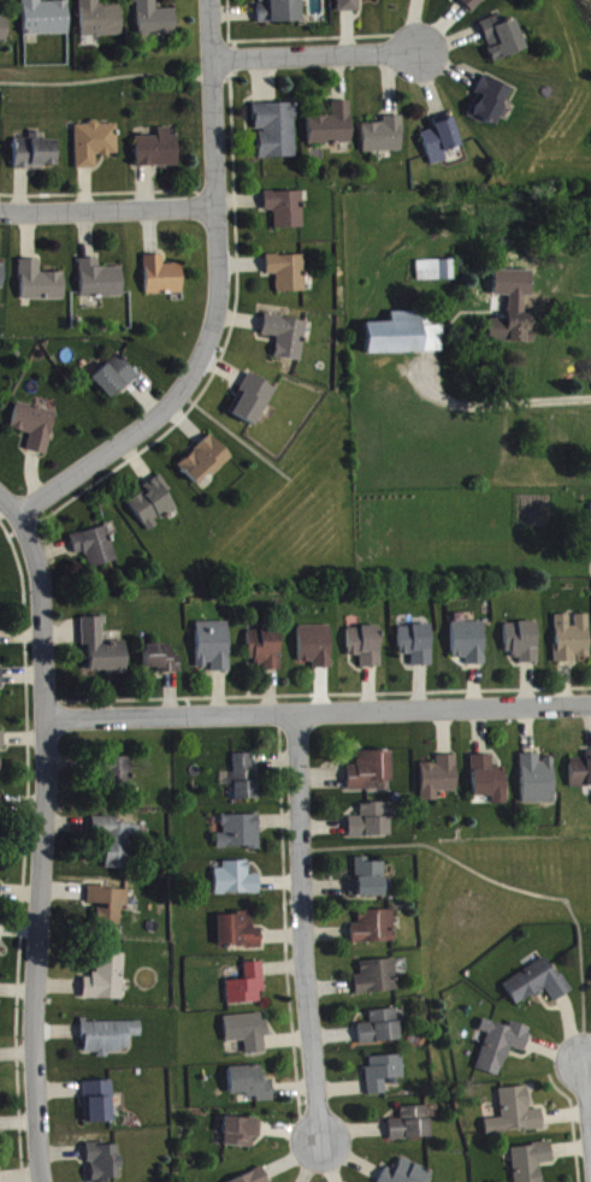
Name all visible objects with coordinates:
building: (473, 4)
building: (350, 6)
building: (280, 11)
building: (47, 18)
building: (156, 19)
building: (101, 20)
building: (5, 29)
building: (503, 39)
road: (319, 55)
building: (490, 102)
building: (333, 128)
building: (277, 131)
building: (384, 136)
building: (442, 140)
building: (96, 144)
building: (159, 150)
building: (36, 153)
building: (288, 209)
road: (108, 212)
building: (437, 271)
building: (289, 273)
building: (1, 276)
building: (165, 277)
building: (102, 282)
building: (42, 283)
road: (220, 303)
building: (514, 309)
building: (288, 337)
building: (406, 337)
building: (117, 378)
building: (253, 401)
road: (503, 403)
building: (36, 427)
building: (207, 461)
building: (155, 504)
road: (10, 506)
building: (97, 548)
building: (573, 639)
building: (524, 642)
building: (471, 643)
building: (418, 645)
building: (215, 646)
building: (318, 646)
building: (367, 646)
building: (105, 650)
building: (267, 650)
building: (164, 661)
building: (1, 680)
road: (319, 710)
building: (2, 747)
building: (372, 770)
building: (581, 773)
building: (123, 774)
building: (247, 778)
building: (441, 779)
building: (490, 780)
building: (538, 781)
building: (372, 822)
building: (241, 833)
building: (116, 841)
road: (46, 846)
building: (368, 880)
building: (237, 881)
building: (0, 892)
building: (112, 906)
road: (306, 927)
building: (376, 928)
building: (240, 932)
building: (379, 979)
building: (108, 980)
building: (538, 983)
building: (249, 987)
building: (383, 1028)
building: (249, 1032)
building: (111, 1038)
building: (502, 1046)
building: (385, 1072)
road: (589, 1083)
building: (253, 1085)
building: (100, 1103)
building: (516, 1115)
building: (413, 1125)
building: (243, 1133)
building: (106, 1163)
building: (532, 1163)
building: (407, 1174)
building: (0, 1177)
building: (255, 1177)

